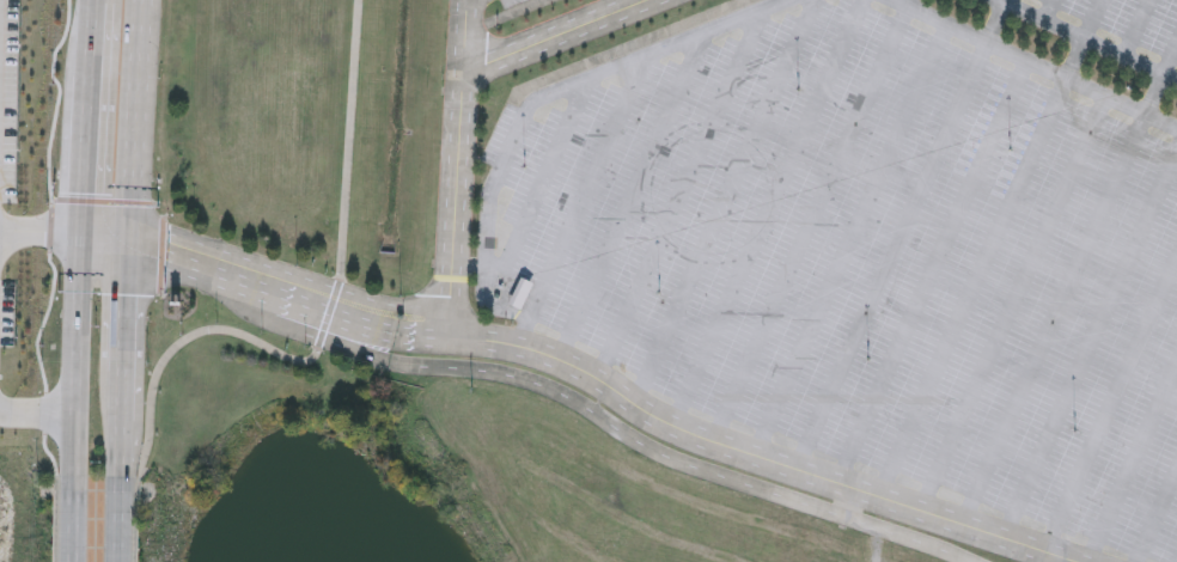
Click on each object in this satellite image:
parking lot: (1041, 0)
road: (97, 1)
road: (1006, 1)
parking lot: (511, 2)
parking lot: (1077, 7)
road: (1048, 10)
road: (516, 12)
parking lot: (1118, 17)
road: (1093, 19)
parking lot: (1160, 26)
road: (475, 28)
road: (1136, 29)
road: (554, 36)
road: (1087, 41)
road: (627, 48)
road: (652, 50)
road: (1170, 60)
road: (1037, 65)
road: (1155, 94)
road: (90, 117)
road: (129, 127)
road: (513, 142)
road: (457, 164)
road: (588, 185)
road: (539, 188)
road: (681, 193)
road: (632, 194)
road: (725, 201)
road: (767, 212)
traffic signals: (127, 224)
road: (810, 224)
road: (42, 232)
traffic signals: (84, 233)
road: (59, 237)
road: (852, 239)
parking lot: (877, 242)
road: (891, 255)
traffic signals: (127, 256)
road: (242, 265)
road: (933, 271)
road: (486, 274)
road: (972, 287)
road: (237, 292)
road: (1014, 303)
road: (1054, 319)
road: (323, 330)
road: (123, 336)
road: (1090, 343)
road: (78, 354)
road: (1110, 407)
road: (36, 409)
road: (732, 446)
road: (120, 448)
road: (679, 459)
road: (1130, 462)
road: (1157, 517)
road: (55, 518)
road: (73, 519)
road: (117, 520)
road: (136, 529)

